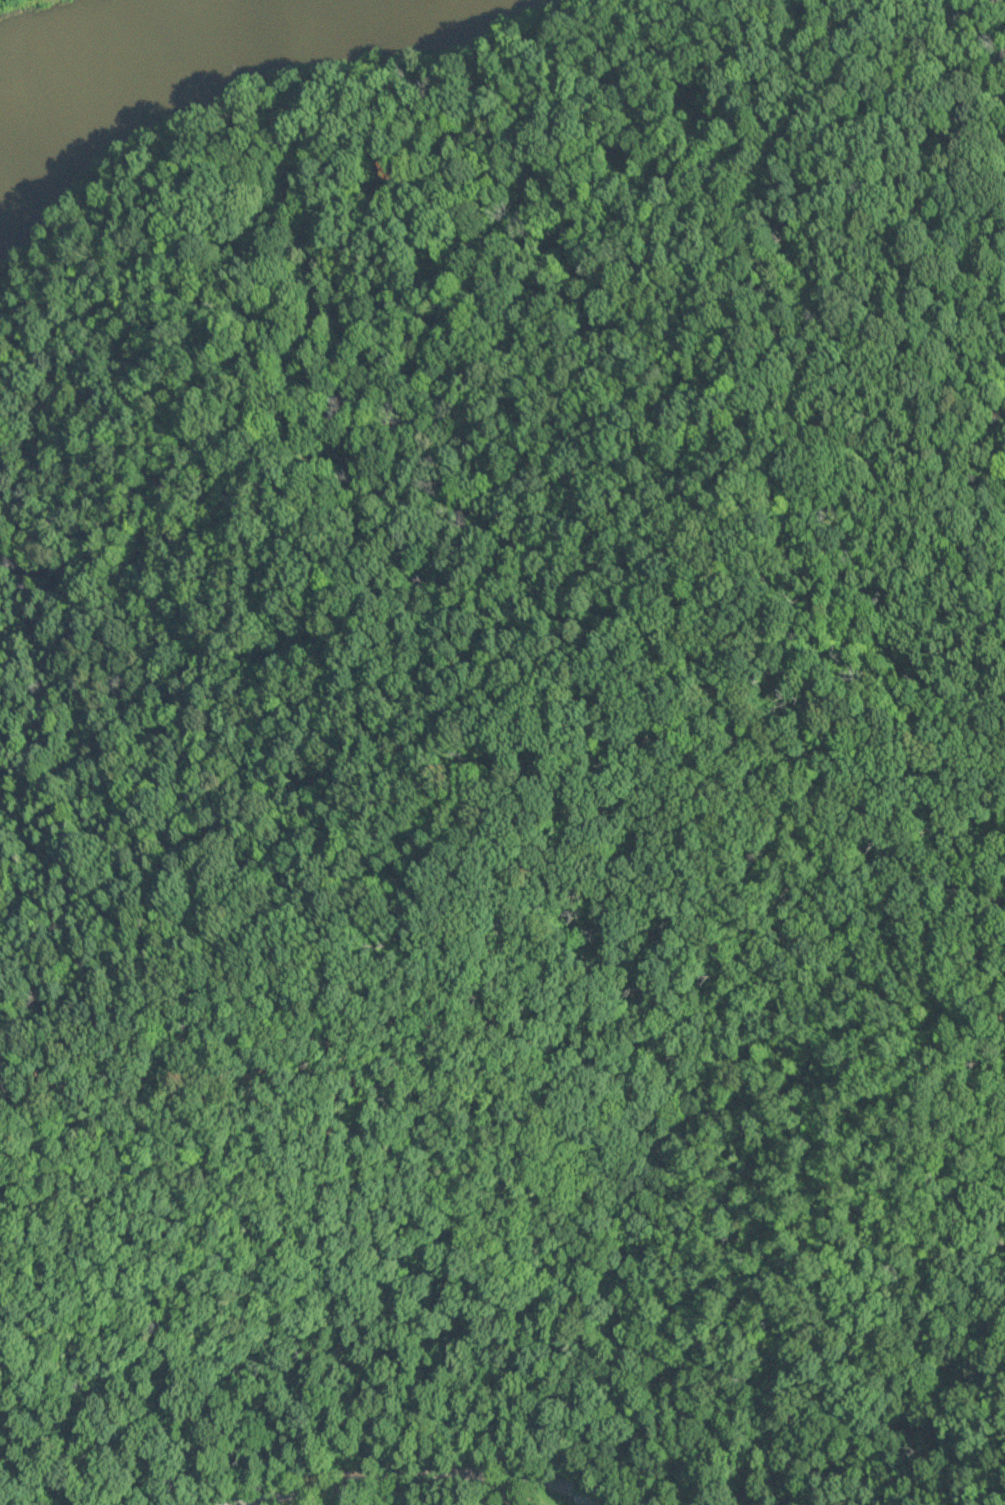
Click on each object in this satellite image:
road: (412, 1474)

